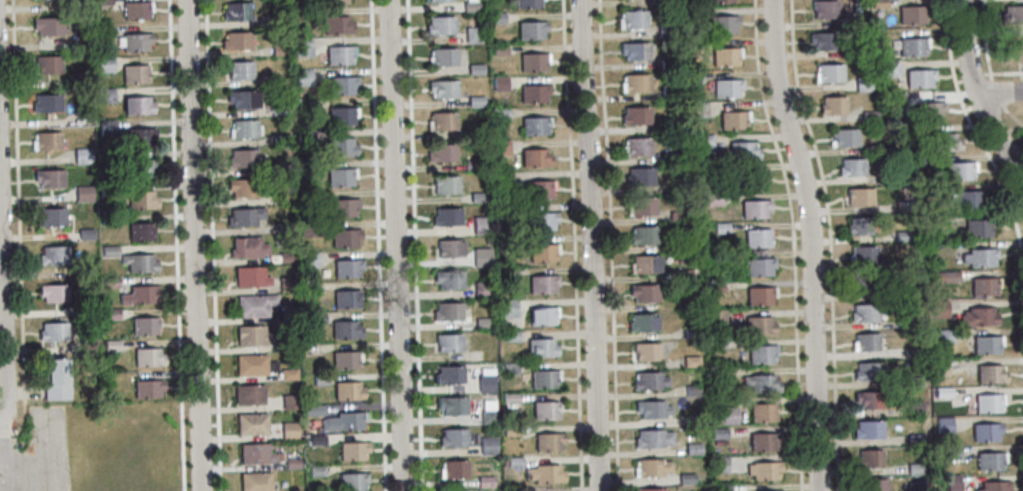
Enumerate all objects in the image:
building: (334, 1)
building: (439, 1)
building: (719, 1)
building: (103, 2)
building: (666, 2)
building: (530, 3)
building: (879, 3)
building: (77, 5)
building: (472, 5)
building: (136, 10)
building: (824, 10)
building: (236, 11)
building: (300, 13)
building: (912, 15)
building: (1012, 15)
building: (499, 18)
building: (632, 20)
building: (277, 21)
building: (722, 24)
building: (47, 25)
building: (336, 25)
building: (442, 25)
building: (669, 26)
building: (532, 30)
building: (103, 32)
building: (475, 34)
road: (985, 40)
building: (236, 41)
building: (823, 41)
building: (136, 42)
building: (78, 44)
building: (913, 47)
building: (302, 48)
building: (501, 48)
building: (278, 50)
building: (635, 51)
building: (1013, 54)
building: (339, 55)
building: (444, 56)
building: (725, 56)
building: (535, 61)
building: (104, 64)
building: (46, 65)
building: (667, 65)
building: (477, 67)
building: (889, 68)
building: (239, 70)
road: (1002, 71)
building: (830, 72)
road: (977, 73)
building: (134, 74)
building: (693, 75)
building: (302, 77)
building: (919, 78)
building: (79, 79)
building: (269, 81)
building: (502, 83)
building: (636, 83)
building: (863, 84)
building: (342, 85)
building: (672, 87)
building: (444, 88)
building: (726, 88)
road: (1000, 92)
building: (535, 93)
road: (997, 93)
building: (105, 95)
road: (979, 97)
building: (242, 99)
building: (897, 99)
building: (477, 100)
building: (46, 103)
building: (305, 105)
building: (137, 106)
building: (832, 106)
building: (279, 107)
building: (698, 109)
building: (930, 111)
building: (502, 112)
road: (1013, 114)
building: (341, 116)
building: (635, 116)
building: (870, 117)
building: (443, 120)
building: (733, 120)
building: (536, 125)
building: (106, 127)
building: (479, 128)
building: (243, 129)
building: (911, 130)
building: (140, 136)
building: (705, 137)
road: (979, 137)
building: (280, 138)
building: (304, 138)
building: (844, 138)
building: (45, 141)
building: (945, 142)
building: (504, 146)
building: (340, 147)
building: (636, 147)
building: (876, 149)
building: (742, 151)
building: (443, 152)
building: (82, 156)
building: (537, 156)
building: (106, 157)
building: (245, 160)
building: (918, 160)
building: (474, 163)
building: (710, 168)
building: (851, 168)
building: (143, 169)
building: (283, 169)
building: (305, 169)
building: (960, 171)
building: (503, 175)
building: (340, 177)
building: (639, 177)
building: (49, 179)
building: (748, 181)
building: (446, 184)
building: (680, 185)
building: (242, 188)
building: (540, 189)
building: (107, 190)
building: (938, 190)
building: (82, 194)
building: (479, 195)
building: (281, 197)
building: (307, 197)
building: (859, 197)
building: (714, 198)
building: (141, 200)
building: (969, 200)
building: (642, 206)
building: (902, 206)
building: (343, 207)
building: (754, 209)
building: (504, 211)
building: (447, 216)
building: (679, 216)
building: (51, 217)
building: (244, 217)
building: (935, 218)
building: (107, 219)
building: (544, 221)
building: (482, 223)
building: (723, 226)
building: (859, 226)
building: (284, 227)
road: (18, 229)
building: (976, 229)
building: (309, 230)
building: (140, 232)
building: (85, 234)
building: (644, 236)
building: (902, 236)
building: (344, 238)
building: (757, 239)
road: (794, 243)
road: (810, 243)
road: (830, 243)
road: (177, 245)
road: (194, 245)
road: (212, 245)
road: (378, 245)
road: (395, 245)
road: (415, 245)
building: (507, 245)
road: (574, 245)
road: (591, 245)
road: (610, 245)
building: (247, 248)
building: (450, 248)
building: (109, 251)
building: (544, 252)
building: (53, 255)
building: (863, 255)
building: (285, 257)
building: (980, 257)
building: (308, 260)
building: (937, 261)
building: (139, 263)
building: (907, 264)
building: (644, 265)
building: (759, 267)
building: (347, 268)
building: (87, 271)
building: (686, 272)
building: (511, 274)
building: (250, 277)
building: (945, 277)
building: (450, 279)
building: (110, 283)
building: (543, 283)
building: (861, 284)
building: (286, 285)
building: (716, 285)
building: (985, 287)
building: (308, 288)
building: (481, 290)
building: (53, 293)
building: (644, 293)
building: (904, 293)
building: (139, 295)
building: (759, 296)
building: (346, 299)
building: (254, 305)
building: (509, 307)
building: (86, 308)
building: (938, 309)
building: (449, 310)
building: (286, 313)
building: (864, 313)
building: (110, 314)
building: (543, 315)
building: (718, 316)
building: (978, 317)
building: (316, 318)
road: (3, 320)
building: (484, 320)
building: (914, 322)
building: (643, 323)
building: (144, 326)
building: (759, 326)
building: (345, 330)
building: (693, 331)
building: (52, 332)
building: (511, 334)
building: (251, 336)
building: (943, 337)
building: (449, 342)
building: (865, 343)
building: (718, 344)
building: (111, 345)
building: (987, 345)
building: (88, 346)
building: (287, 346)
building: (543, 347)
building: (645, 352)
building: (911, 352)
building: (761, 354)
building: (147, 358)
building: (693, 359)
building: (344, 360)
building: (253, 365)
building: (511, 365)
building: (940, 366)
building: (719, 371)
building: (868, 371)
building: (450, 374)
building: (288, 375)
building: (990, 375)
building: (546, 378)
building: (487, 379)
building: (55, 380)
building: (319, 380)
building: (649, 381)
building: (913, 381)
building: (106, 384)
building: (760, 384)
building: (692, 386)
building: (147, 389)
building: (347, 391)
building: (942, 392)
building: (248, 395)
building: (510, 397)
road: (2, 398)
building: (869, 401)
building: (289, 402)
building: (988, 404)
building: (453, 405)
building: (651, 409)
building: (914, 409)
building: (313, 410)
building: (547, 410)
building: (762, 413)
building: (489, 415)
building: (723, 415)
road: (3, 418)
building: (696, 418)
building: (343, 422)
building: (251, 424)
building: (943, 425)
building: (512, 429)
building: (867, 430)
building: (288, 431)
building: (719, 432)
building: (986, 433)
building: (455, 437)
building: (652, 439)
building: (915, 439)
building: (316, 440)
building: (550, 441)
building: (762, 441)
building: (489, 444)
building: (695, 447)
building: (352, 451)
building: (950, 451)
building: (254, 454)
building: (869, 458)
building: (514, 459)
building: (990, 461)
building: (721, 463)
building: (291, 464)
building: (455, 468)
building: (652, 468)
building: (915, 469)
building: (763, 470)
building: (316, 471)
building: (544, 472)
building: (688, 477)
building: (485, 479)
building: (254, 481)
building: (352, 482)
building: (951, 483)
building: (875, 485)
building: (725, 486)
building: (995, 486)
building: (516, 489)
building: (648, 489)
building: (767, 490)

